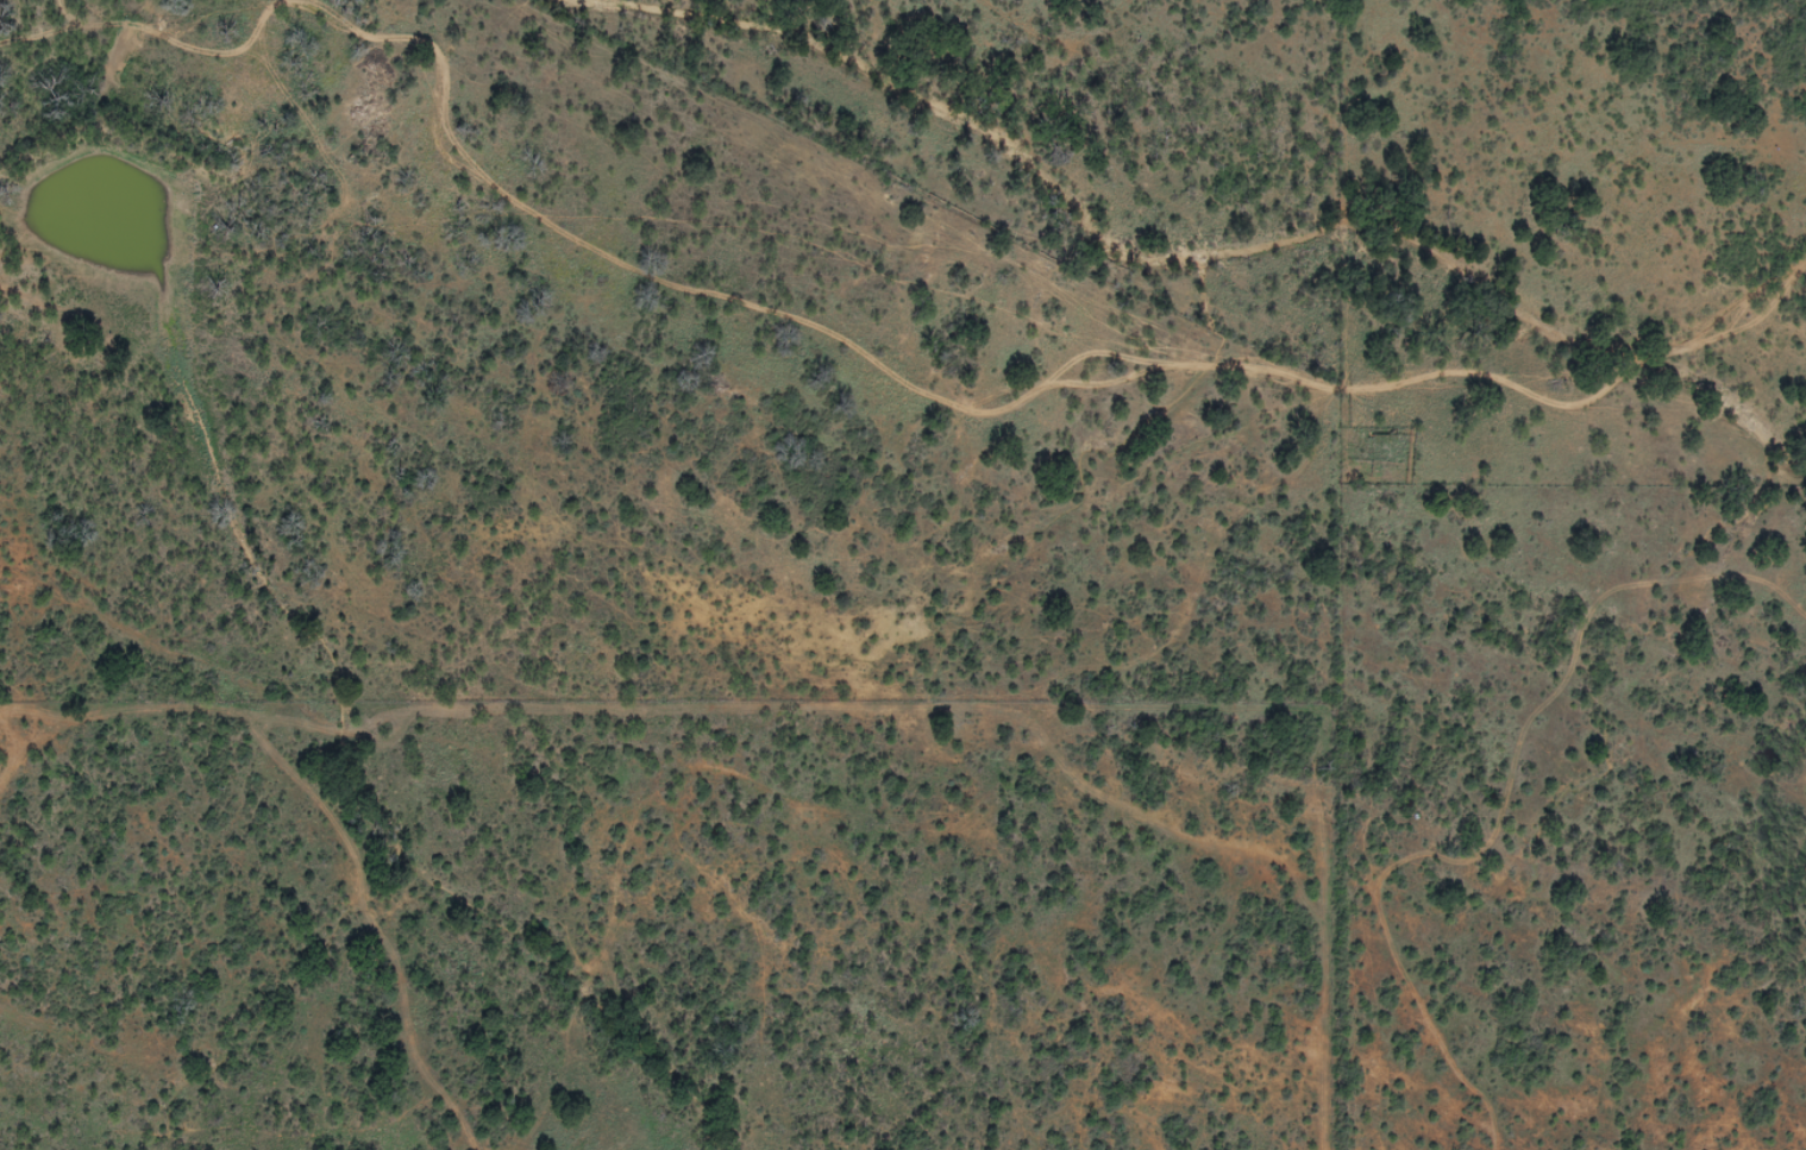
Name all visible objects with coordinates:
road: (307, 812)

